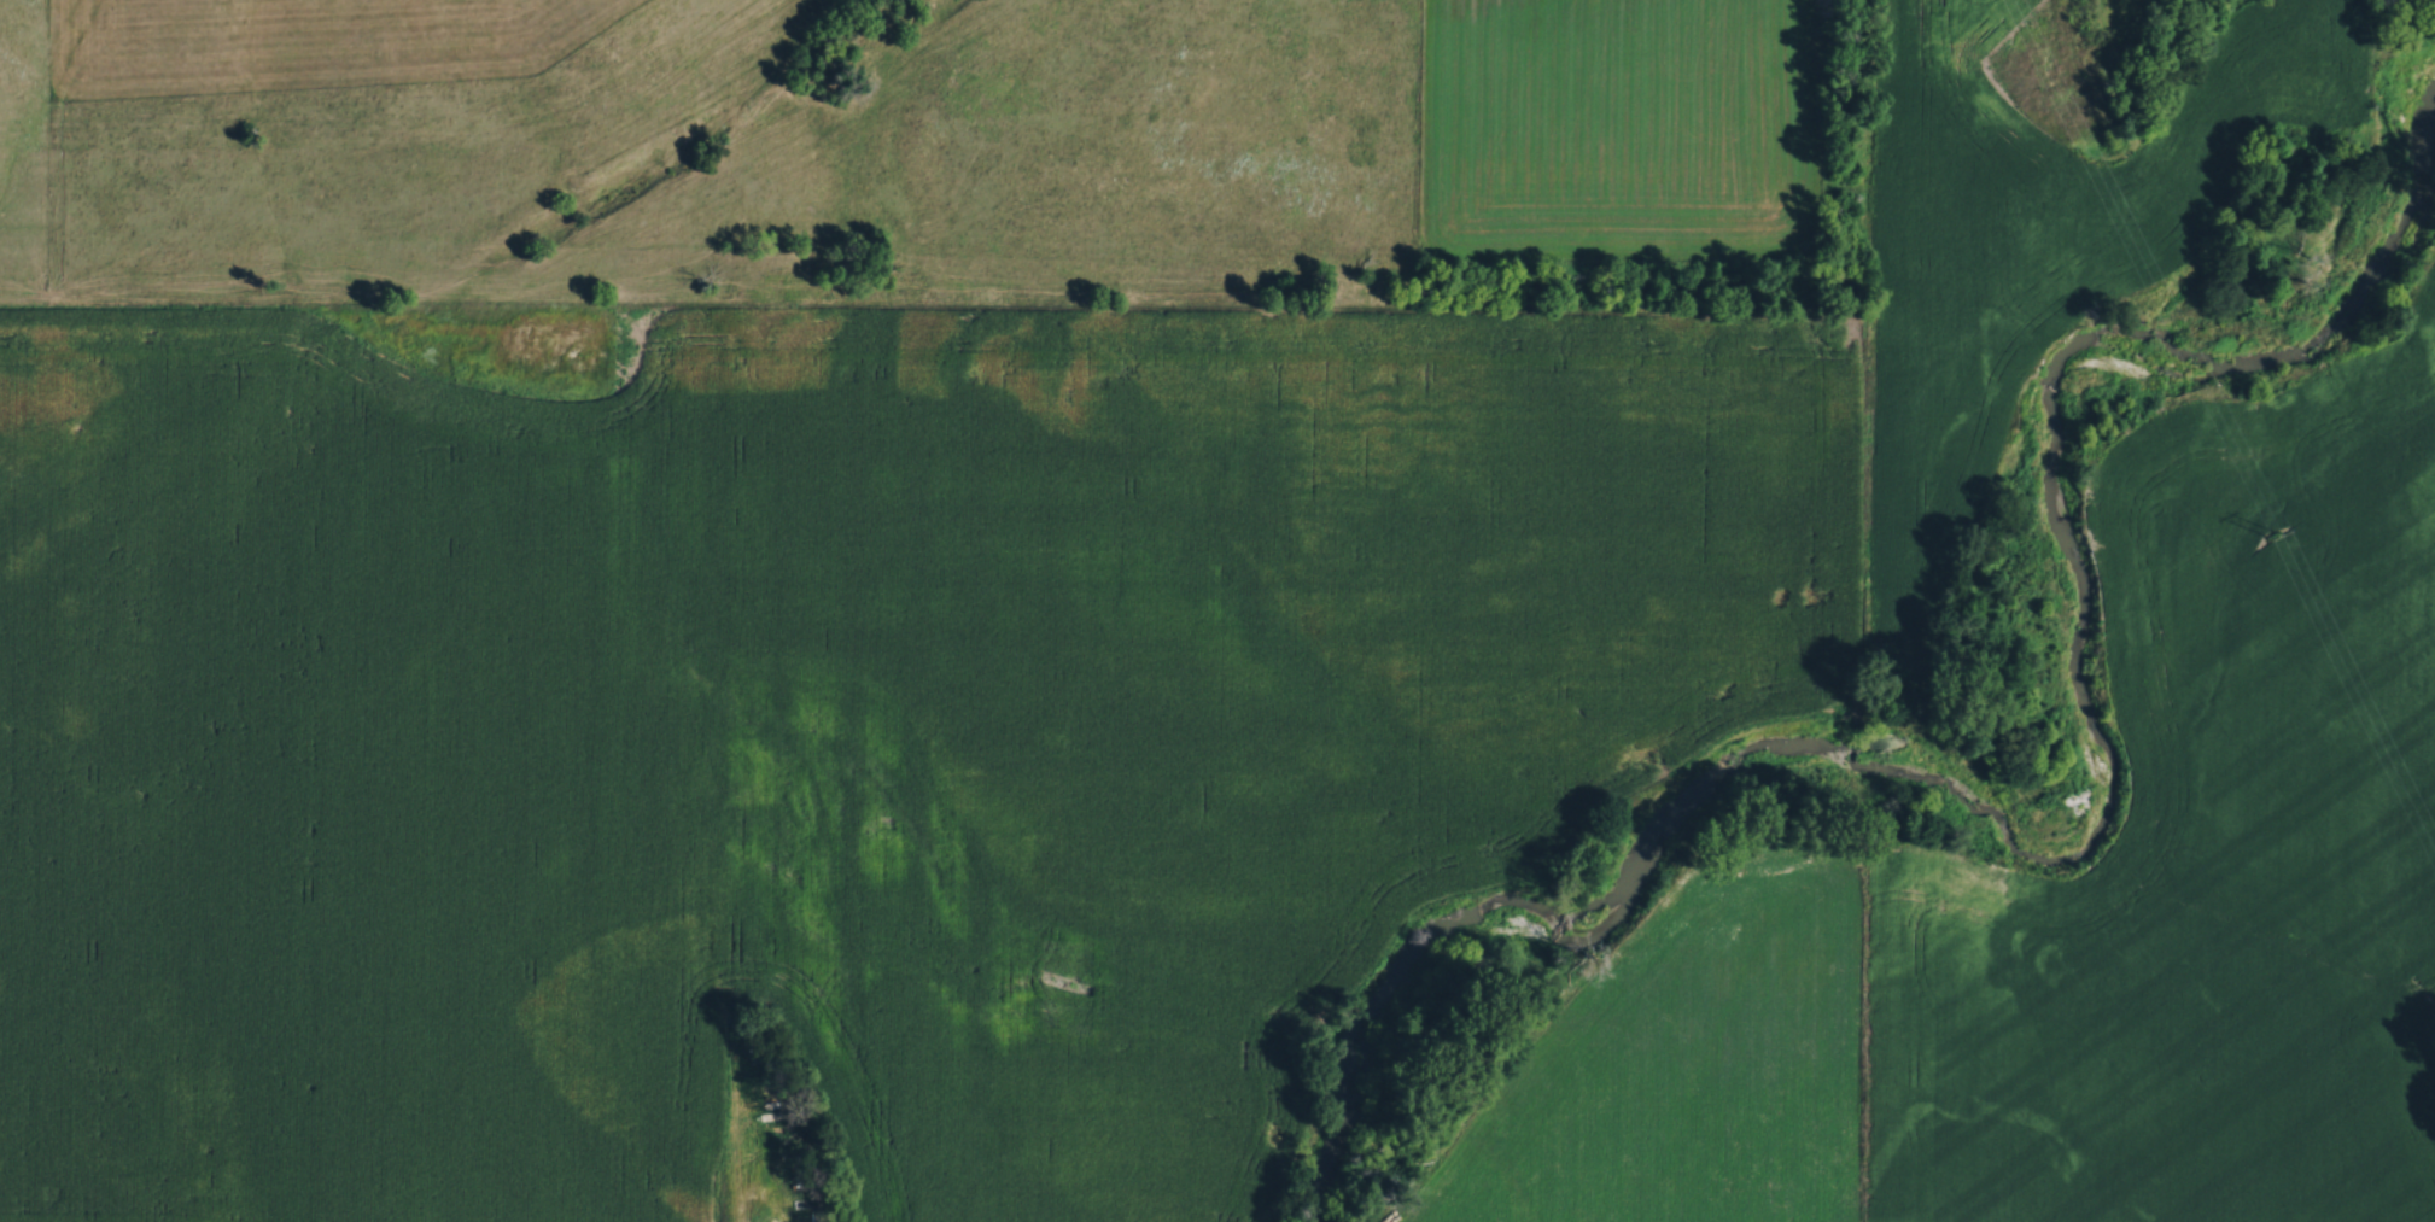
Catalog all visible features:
power tower: (2273, 533)

